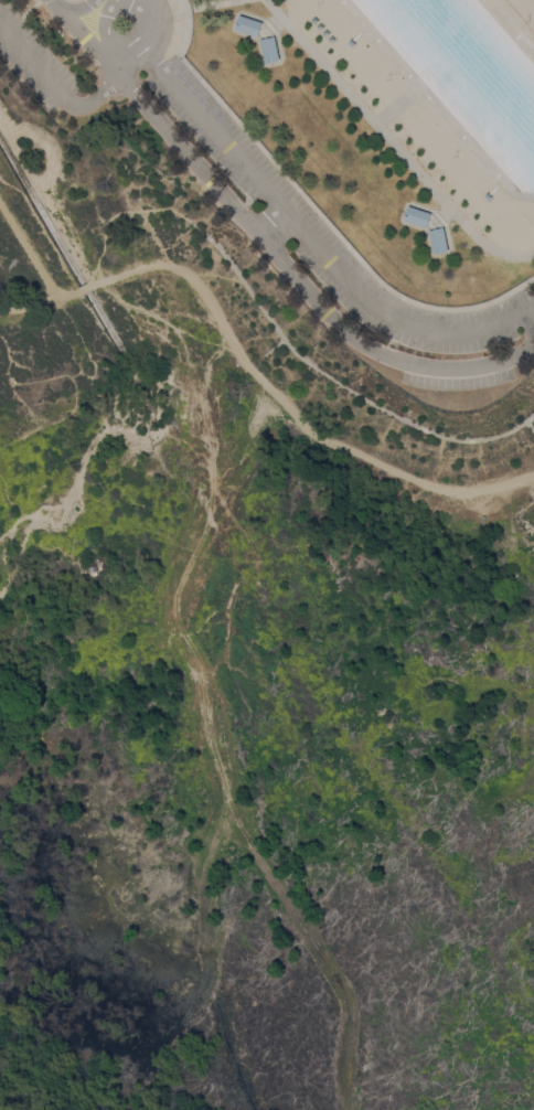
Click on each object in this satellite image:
road: (116, 0)
road: (173, 0)
road: (55, 4)
road: (148, 7)
road: (75, 8)
road: (20, 14)
road: (175, 23)
building: (247, 25)
road: (87, 41)
road: (127, 47)
building: (268, 49)
parking lot: (32, 57)
road: (120, 60)
road: (54, 86)
road: (391, 142)
park: (331, 154)
building: (416, 216)
road: (330, 227)
parking lot: (325, 233)
building: (437, 241)
road: (311, 244)
road: (26, 248)
road: (296, 280)
road: (254, 376)
parking lot: (458, 378)

